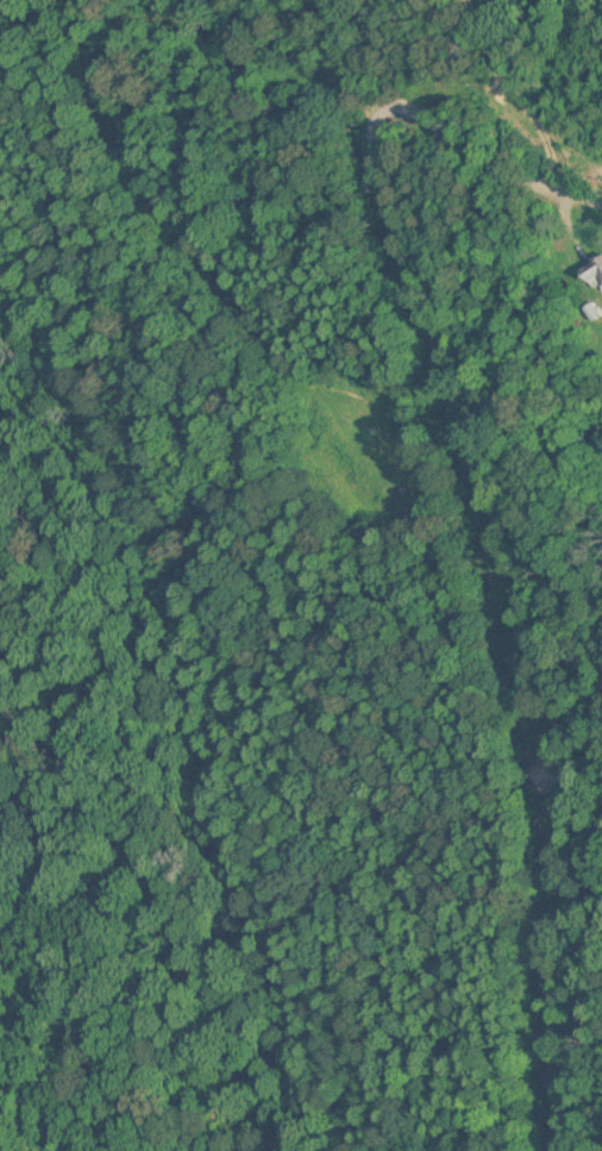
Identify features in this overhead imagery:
road: (523, 107)
road: (465, 150)
building: (594, 275)
building: (591, 312)
road: (522, 618)

